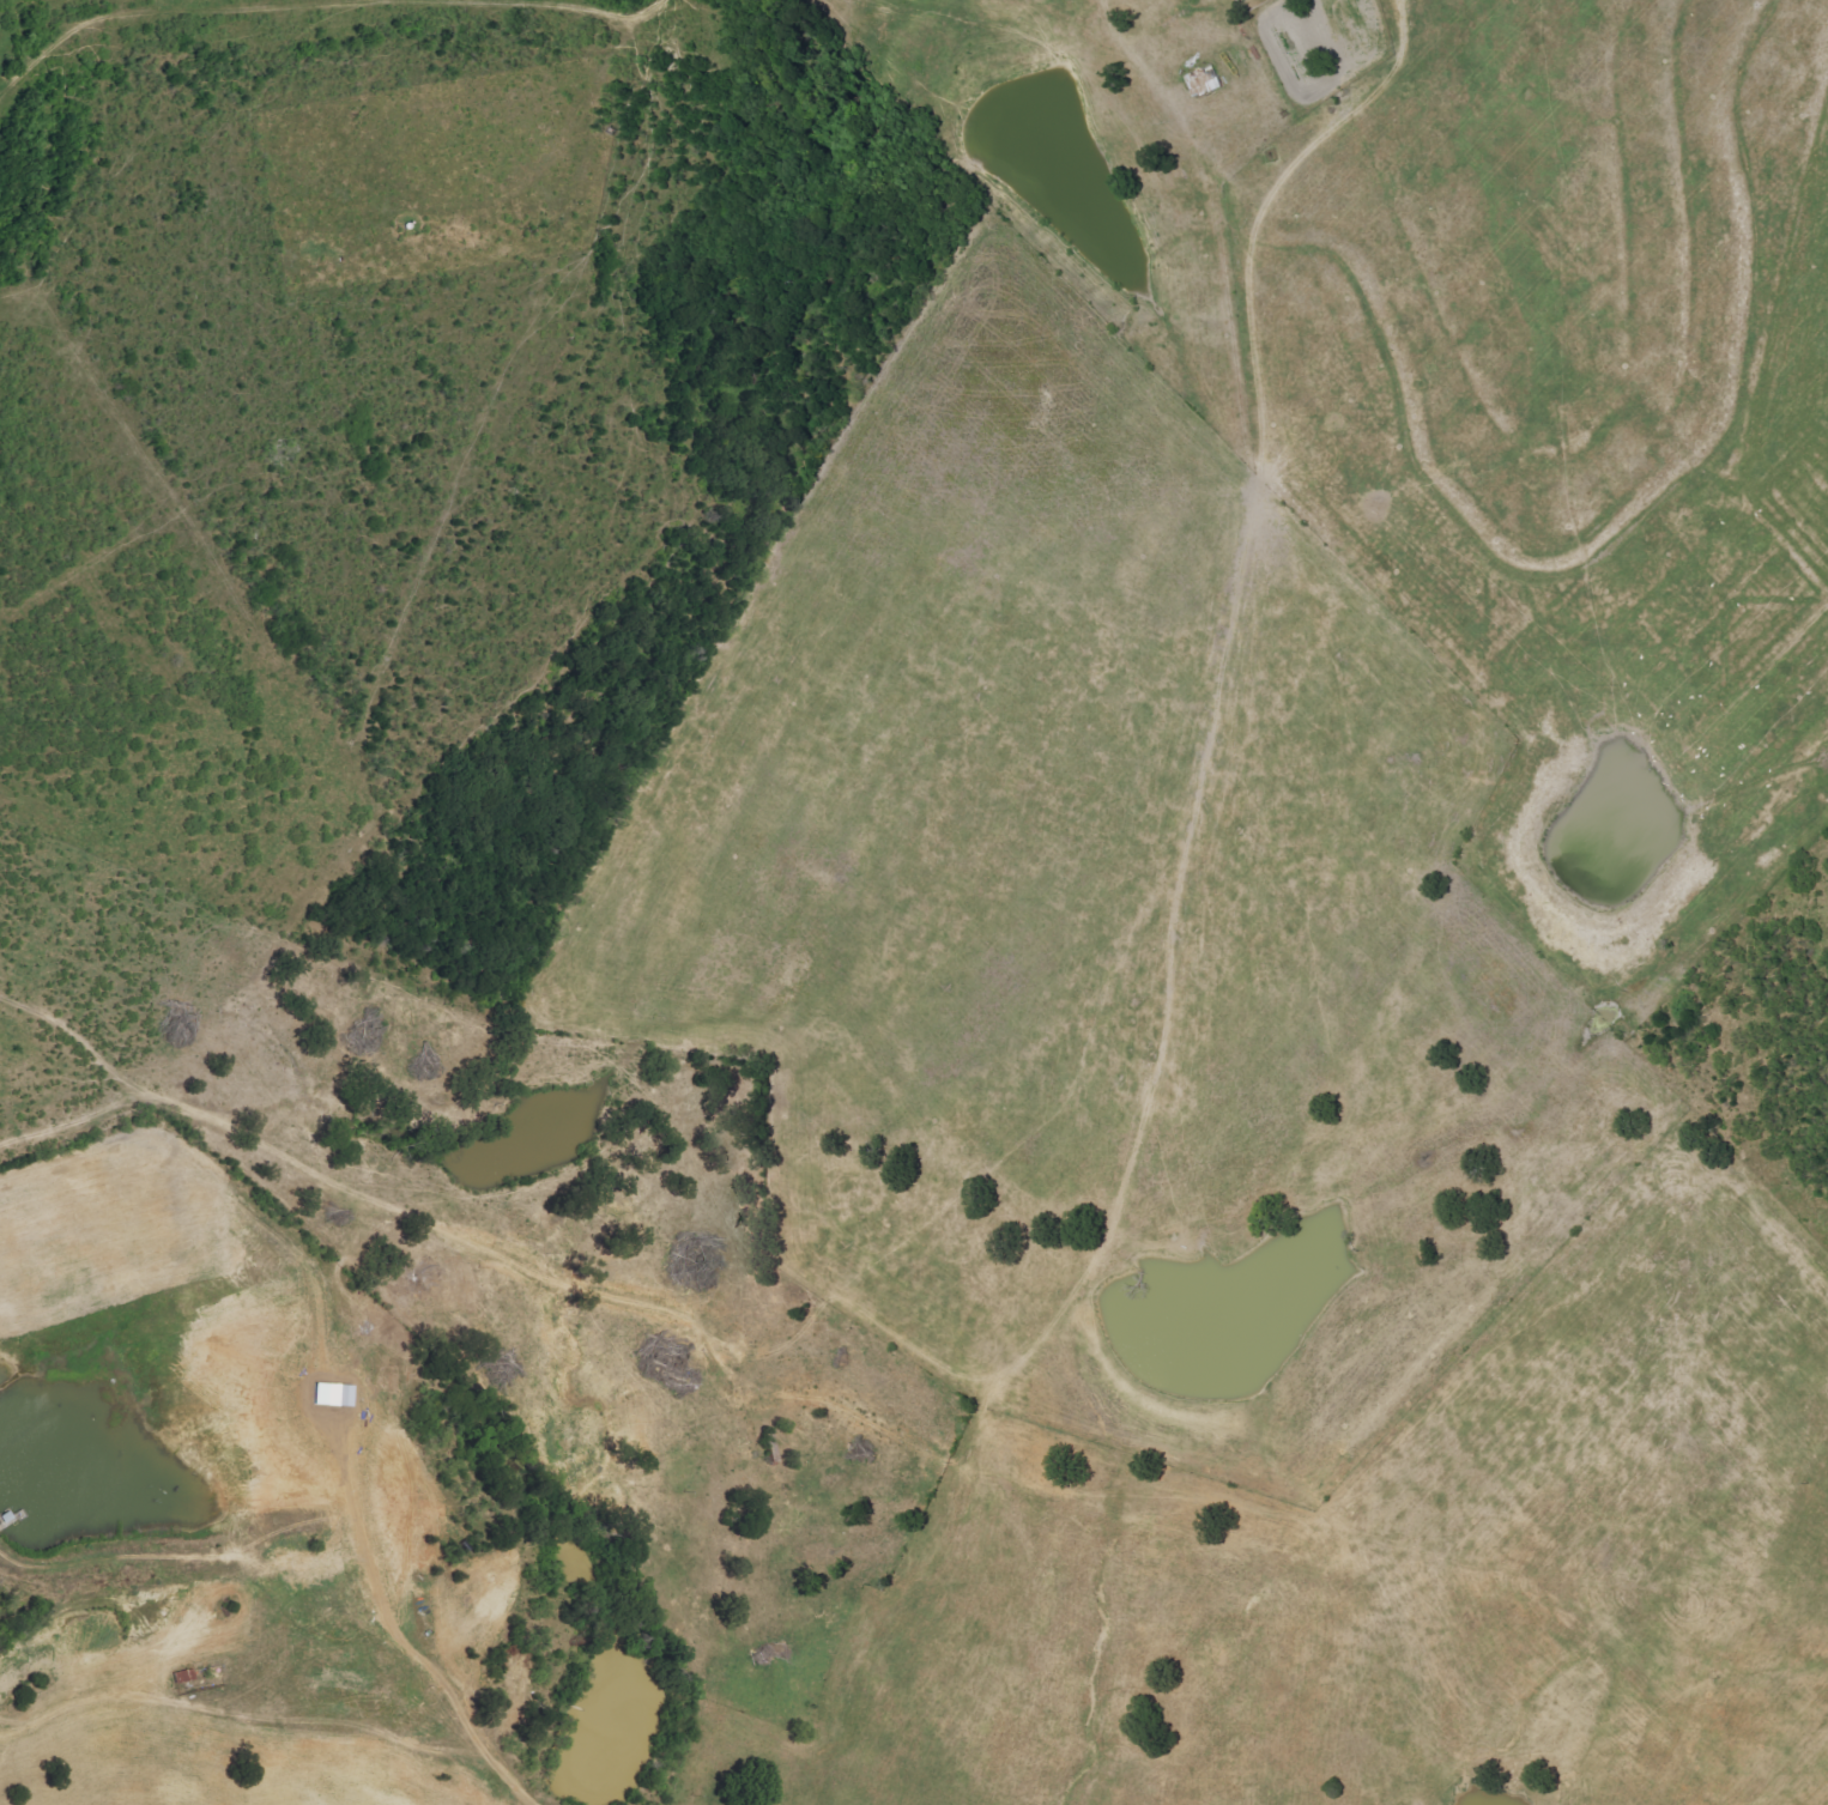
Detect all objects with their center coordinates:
road: (1678, 1777)

